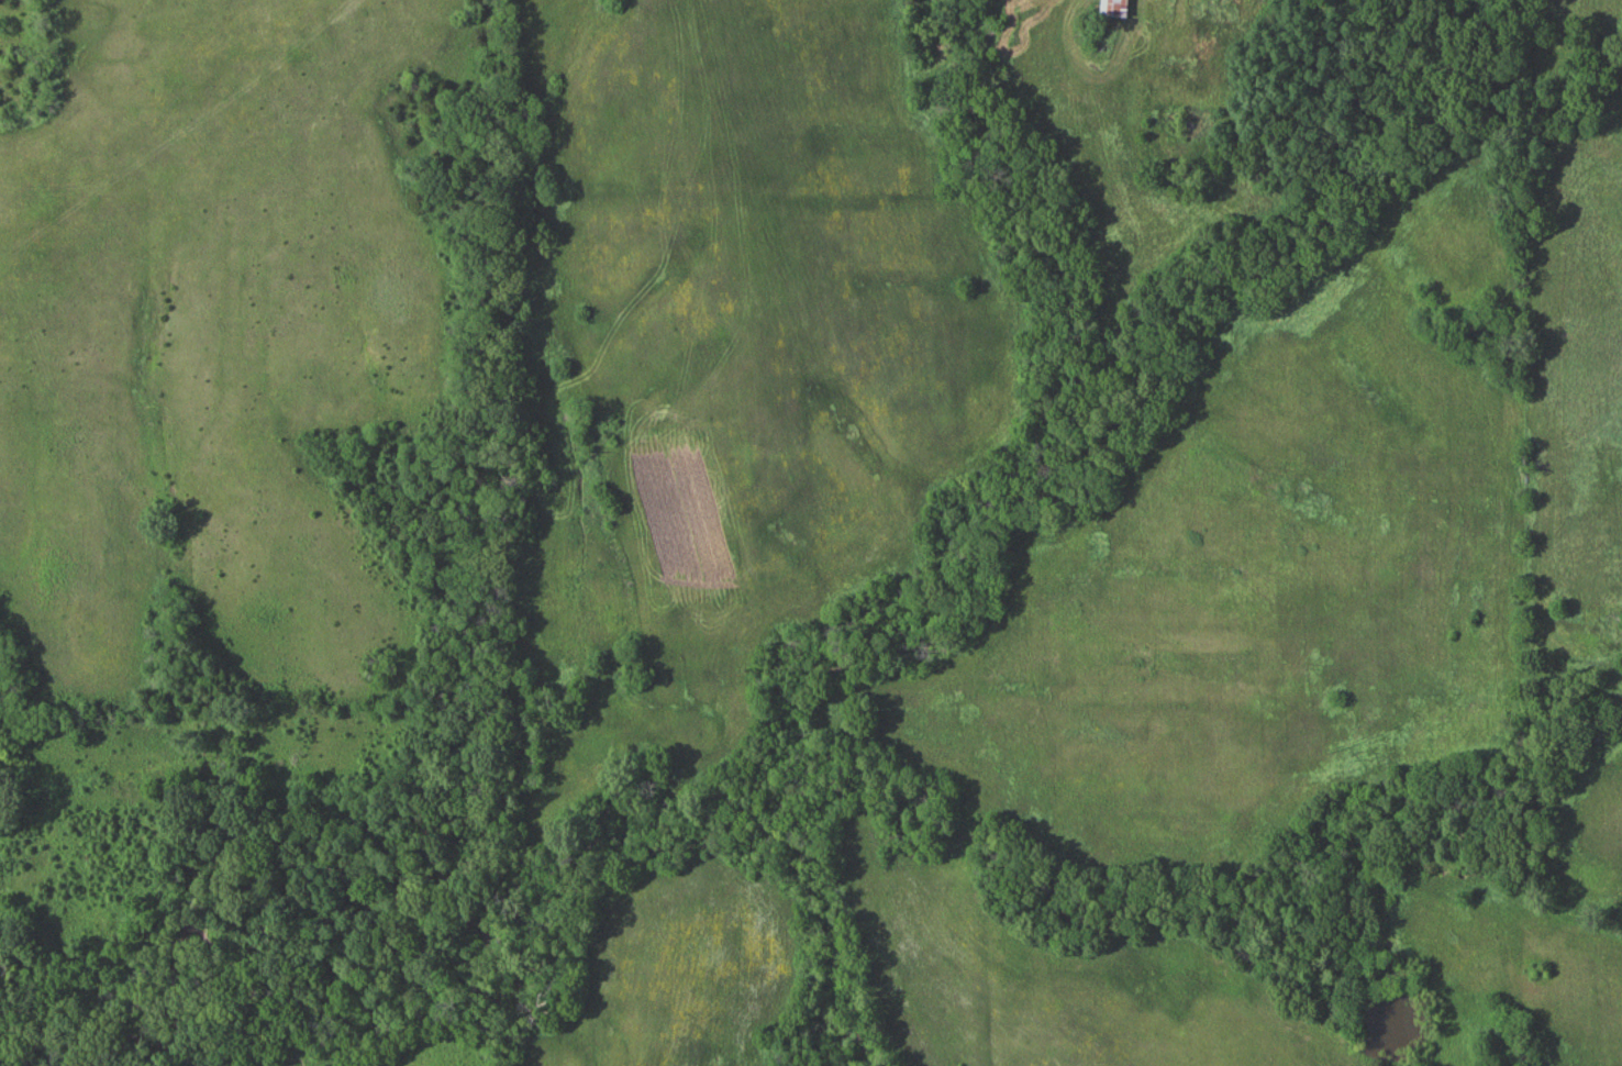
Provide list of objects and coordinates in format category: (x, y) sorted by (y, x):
building: (1116, 9)

